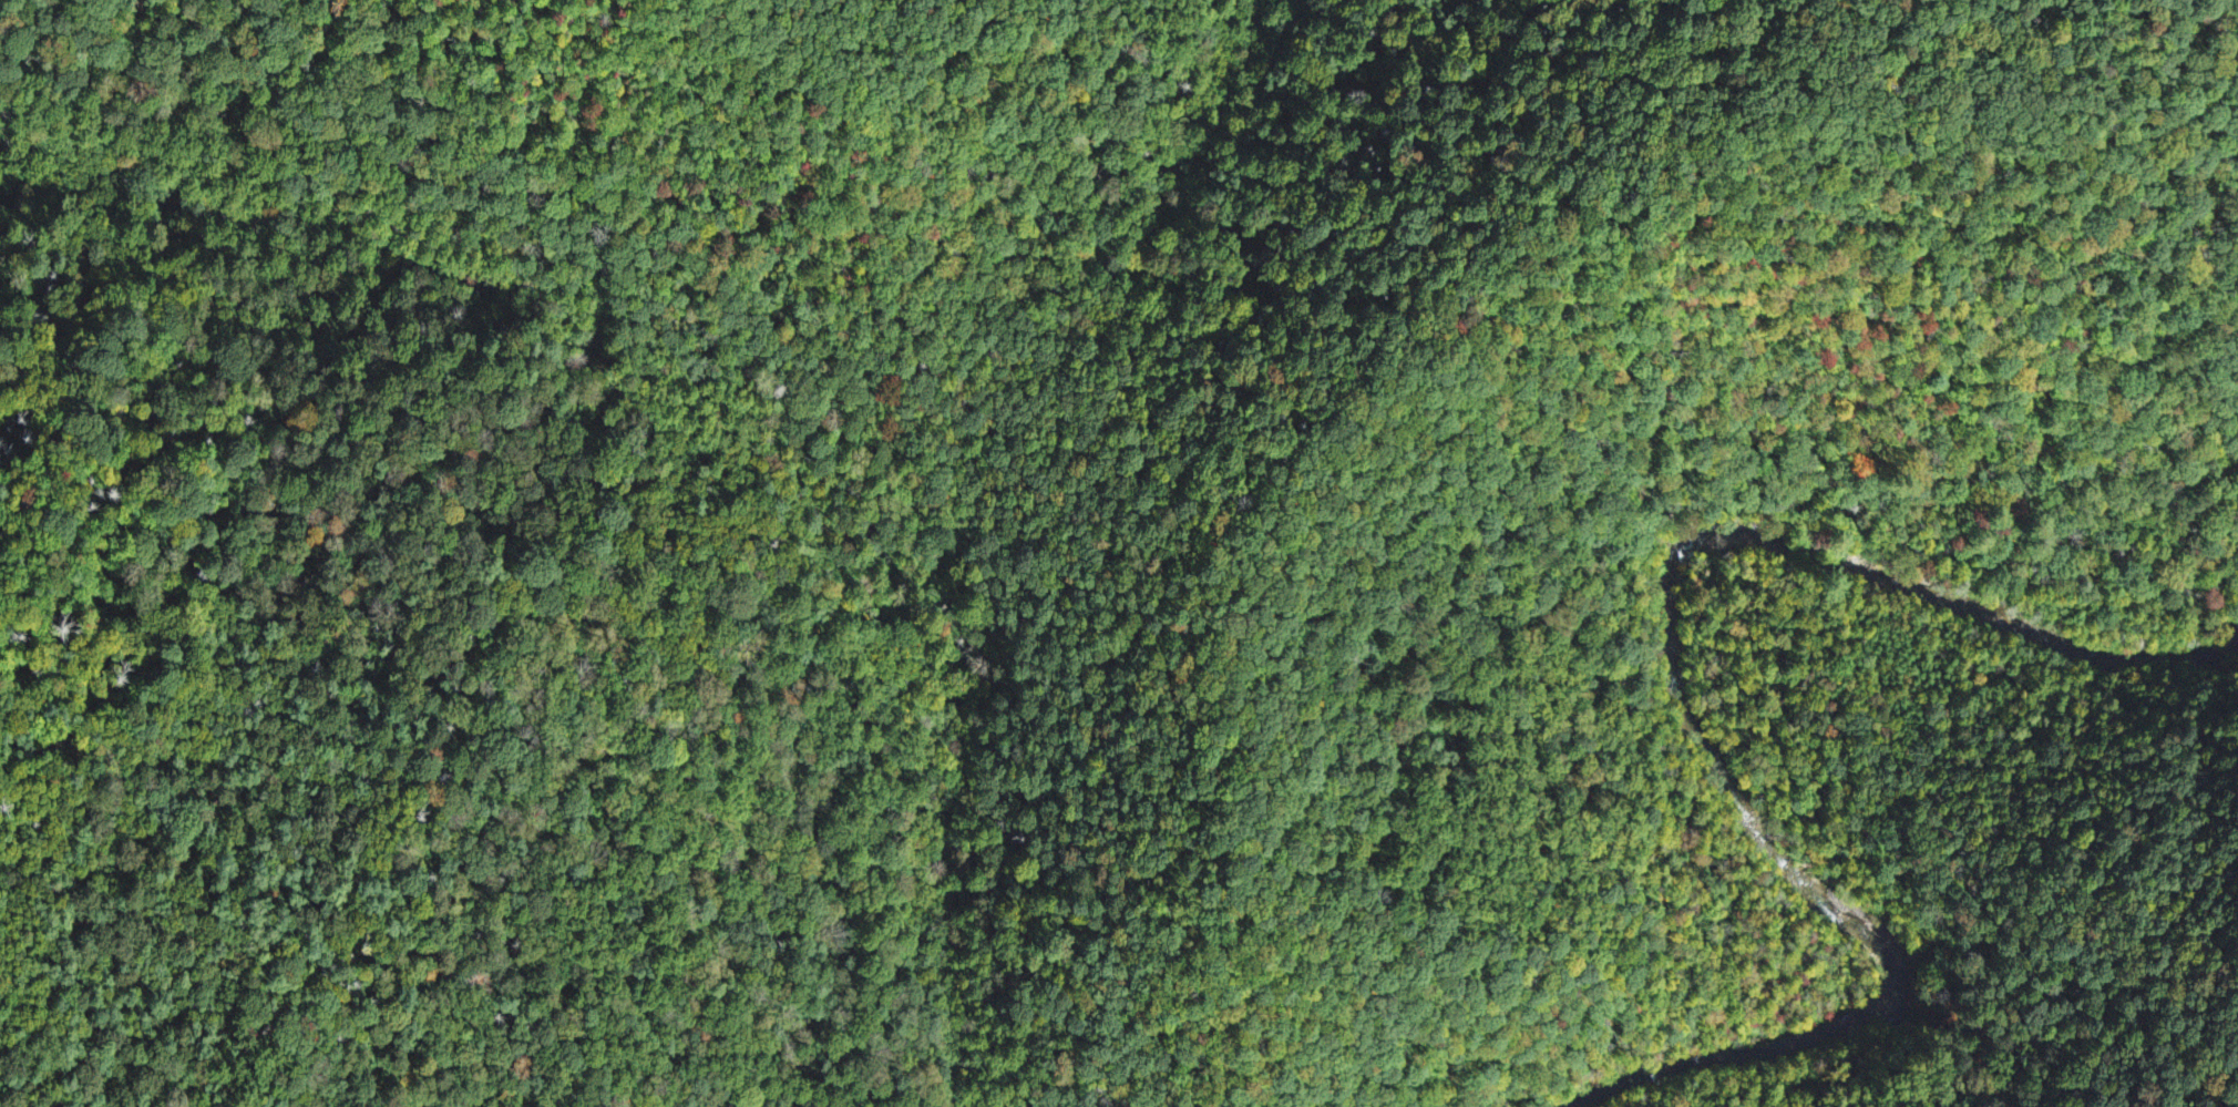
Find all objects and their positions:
road: (839, 153)
road: (680, 294)
river: (1682, 700)
road: (1805, 713)

